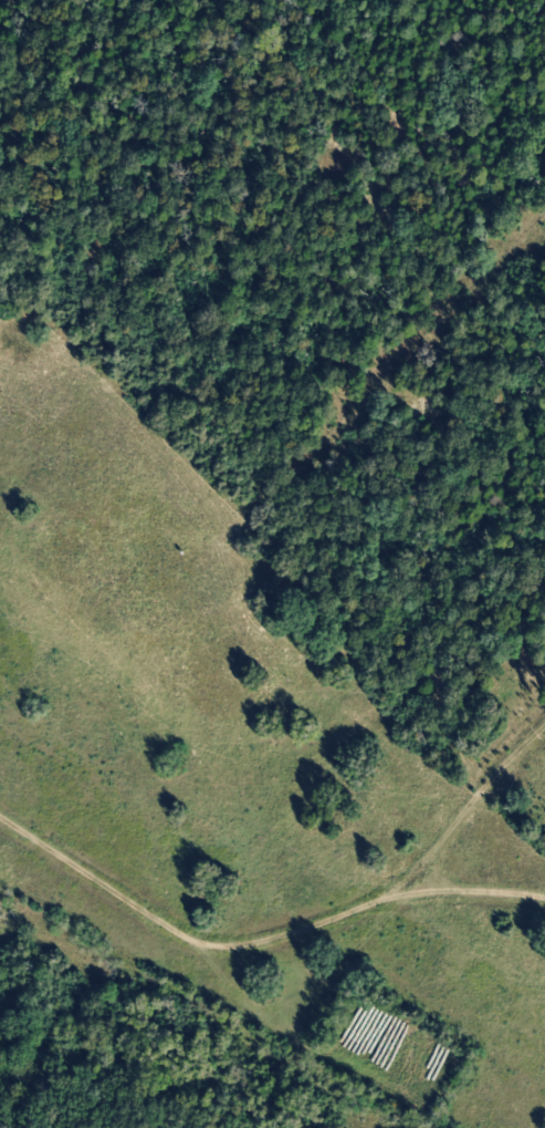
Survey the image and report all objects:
road: (295, 931)

